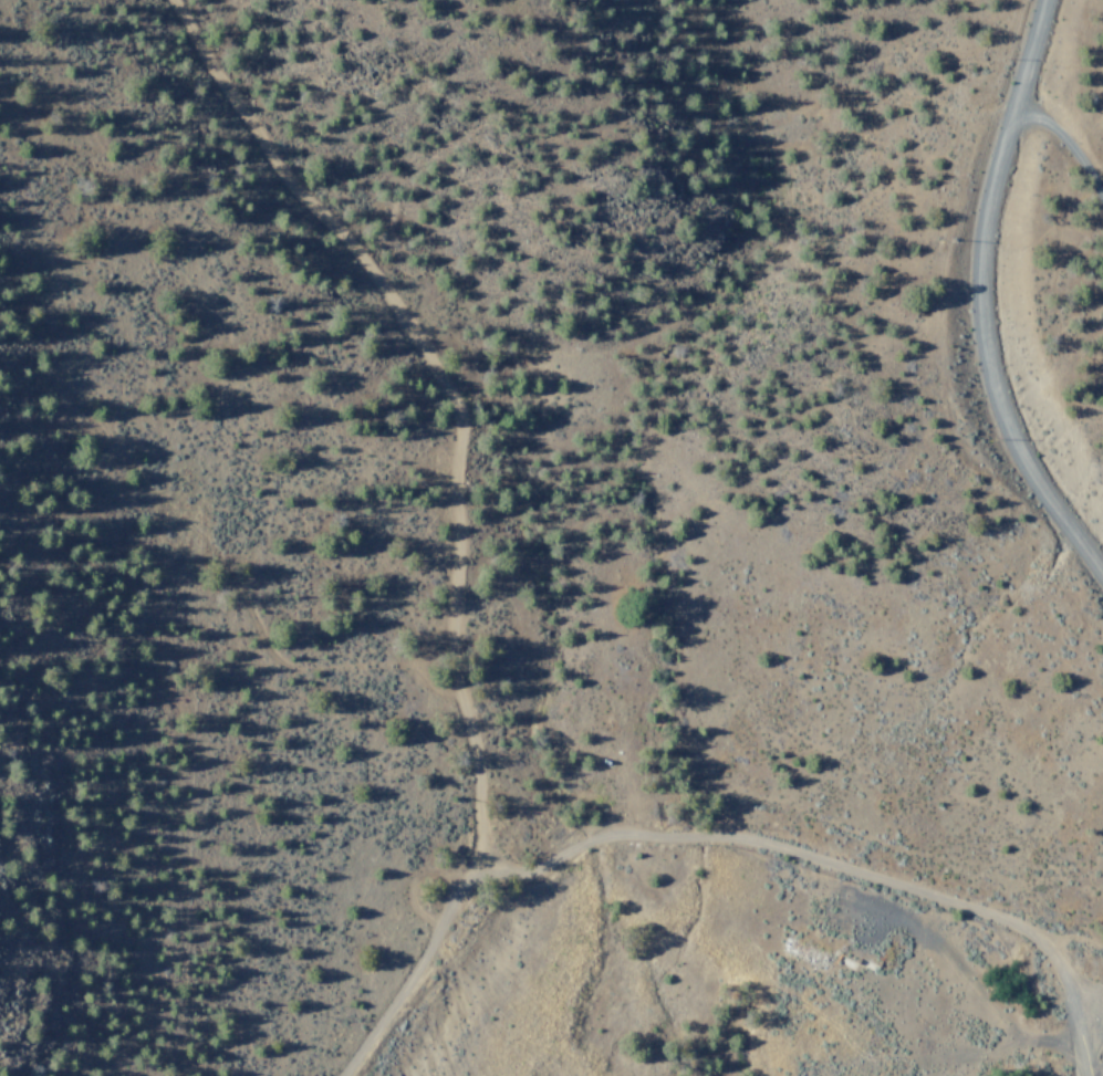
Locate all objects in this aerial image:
road: (979, 302)
road: (449, 397)
road: (230, 554)
road: (717, 837)

